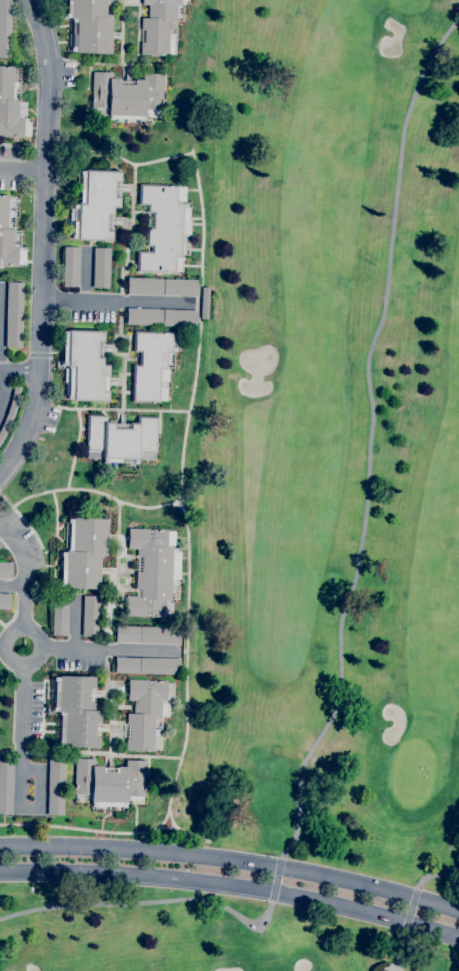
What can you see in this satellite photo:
building: (91, 25)
building: (5, 27)
building: (159, 27)
building: (126, 96)
building: (10, 106)
road: (21, 168)
building: (95, 204)
building: (163, 228)
building: (8, 238)
road: (43, 238)
building: (70, 267)
building: (101, 267)
building: (162, 287)
road: (0, 297)
road: (121, 301)
building: (14, 314)
building: (161, 317)
building: (85, 365)
building: (150, 366)
road: (0, 370)
road: (19, 371)
road: (0, 375)
building: (10, 412)
building: (120, 439)
park: (321, 524)
building: (83, 553)
building: (5, 570)
road: (25, 572)
building: (154, 573)
building: (4, 601)
building: (60, 614)
building: (90, 616)
building: (148, 634)
road: (111, 651)
building: (146, 665)
road: (27, 667)
building: (76, 712)
building: (147, 713)
road: (21, 736)
building: (110, 782)
building: (56, 785)
building: (5, 786)
road: (231, 862)
road: (232, 886)
building: (381, 970)

